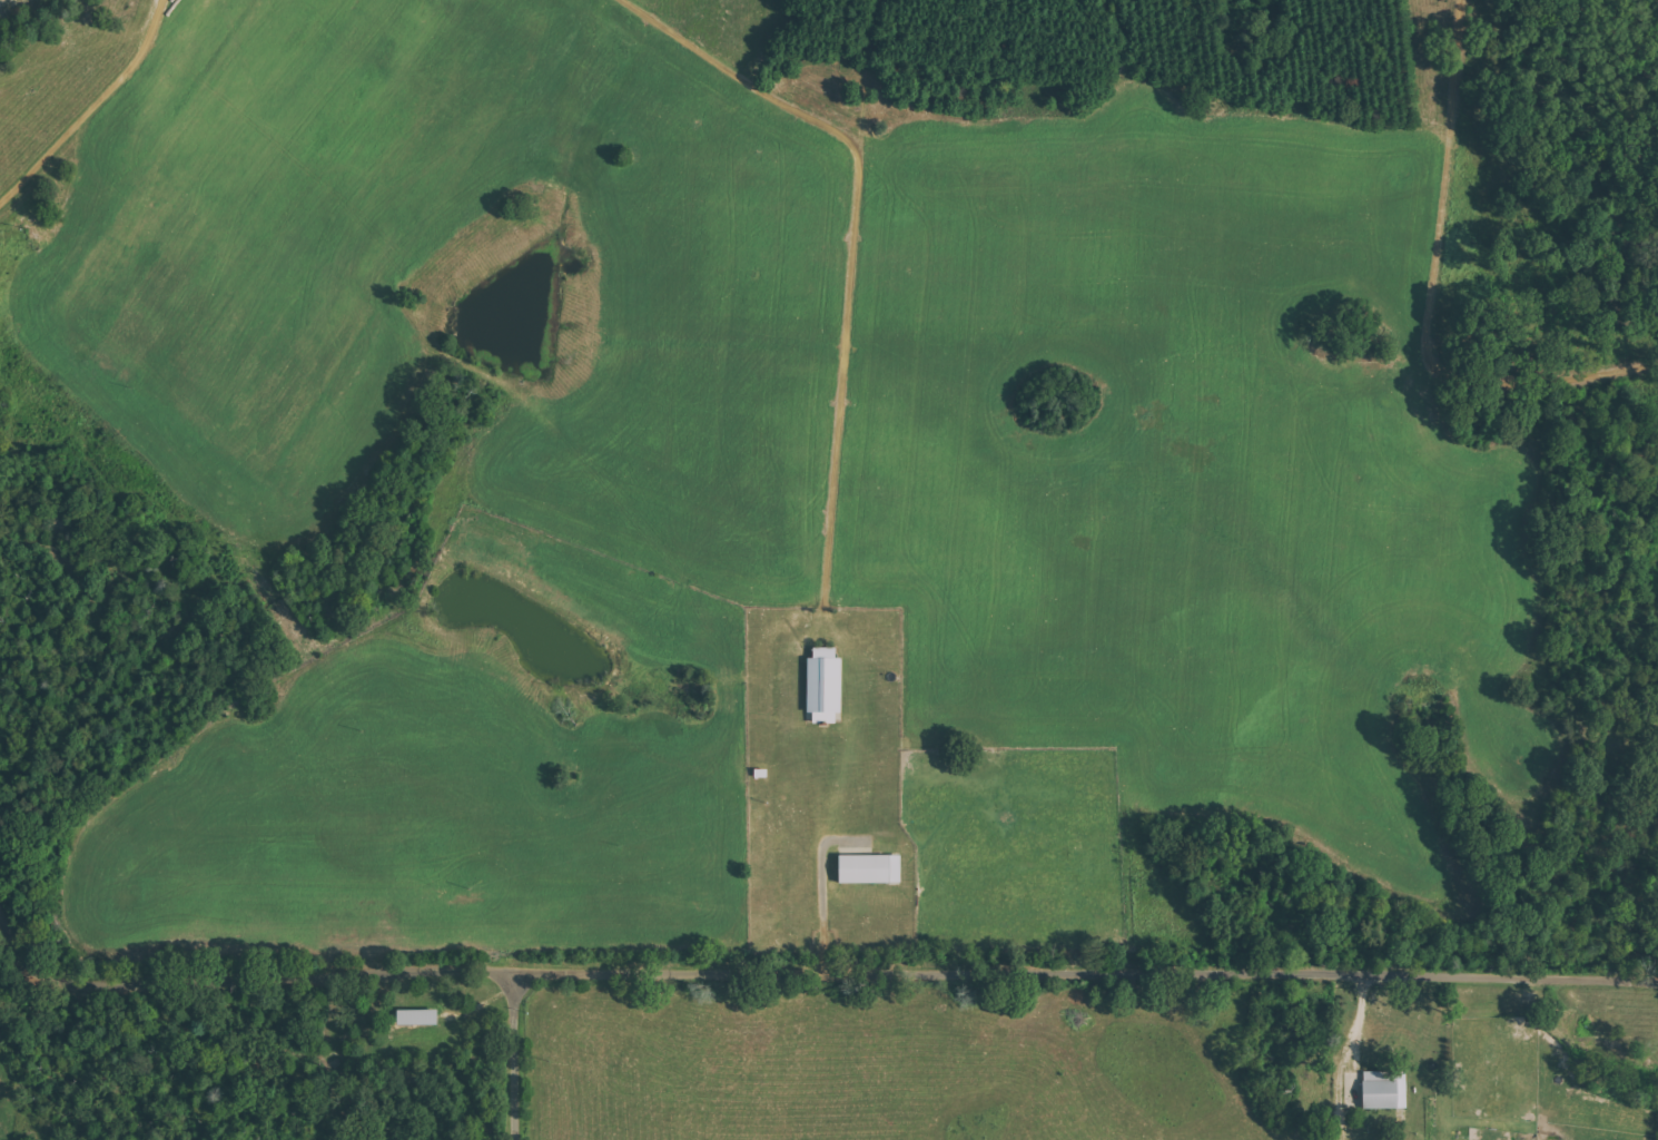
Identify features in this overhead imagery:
building: (827, 685)
building: (872, 868)
road: (811, 975)
building: (420, 1016)
road: (521, 1054)
building: (1386, 1089)

